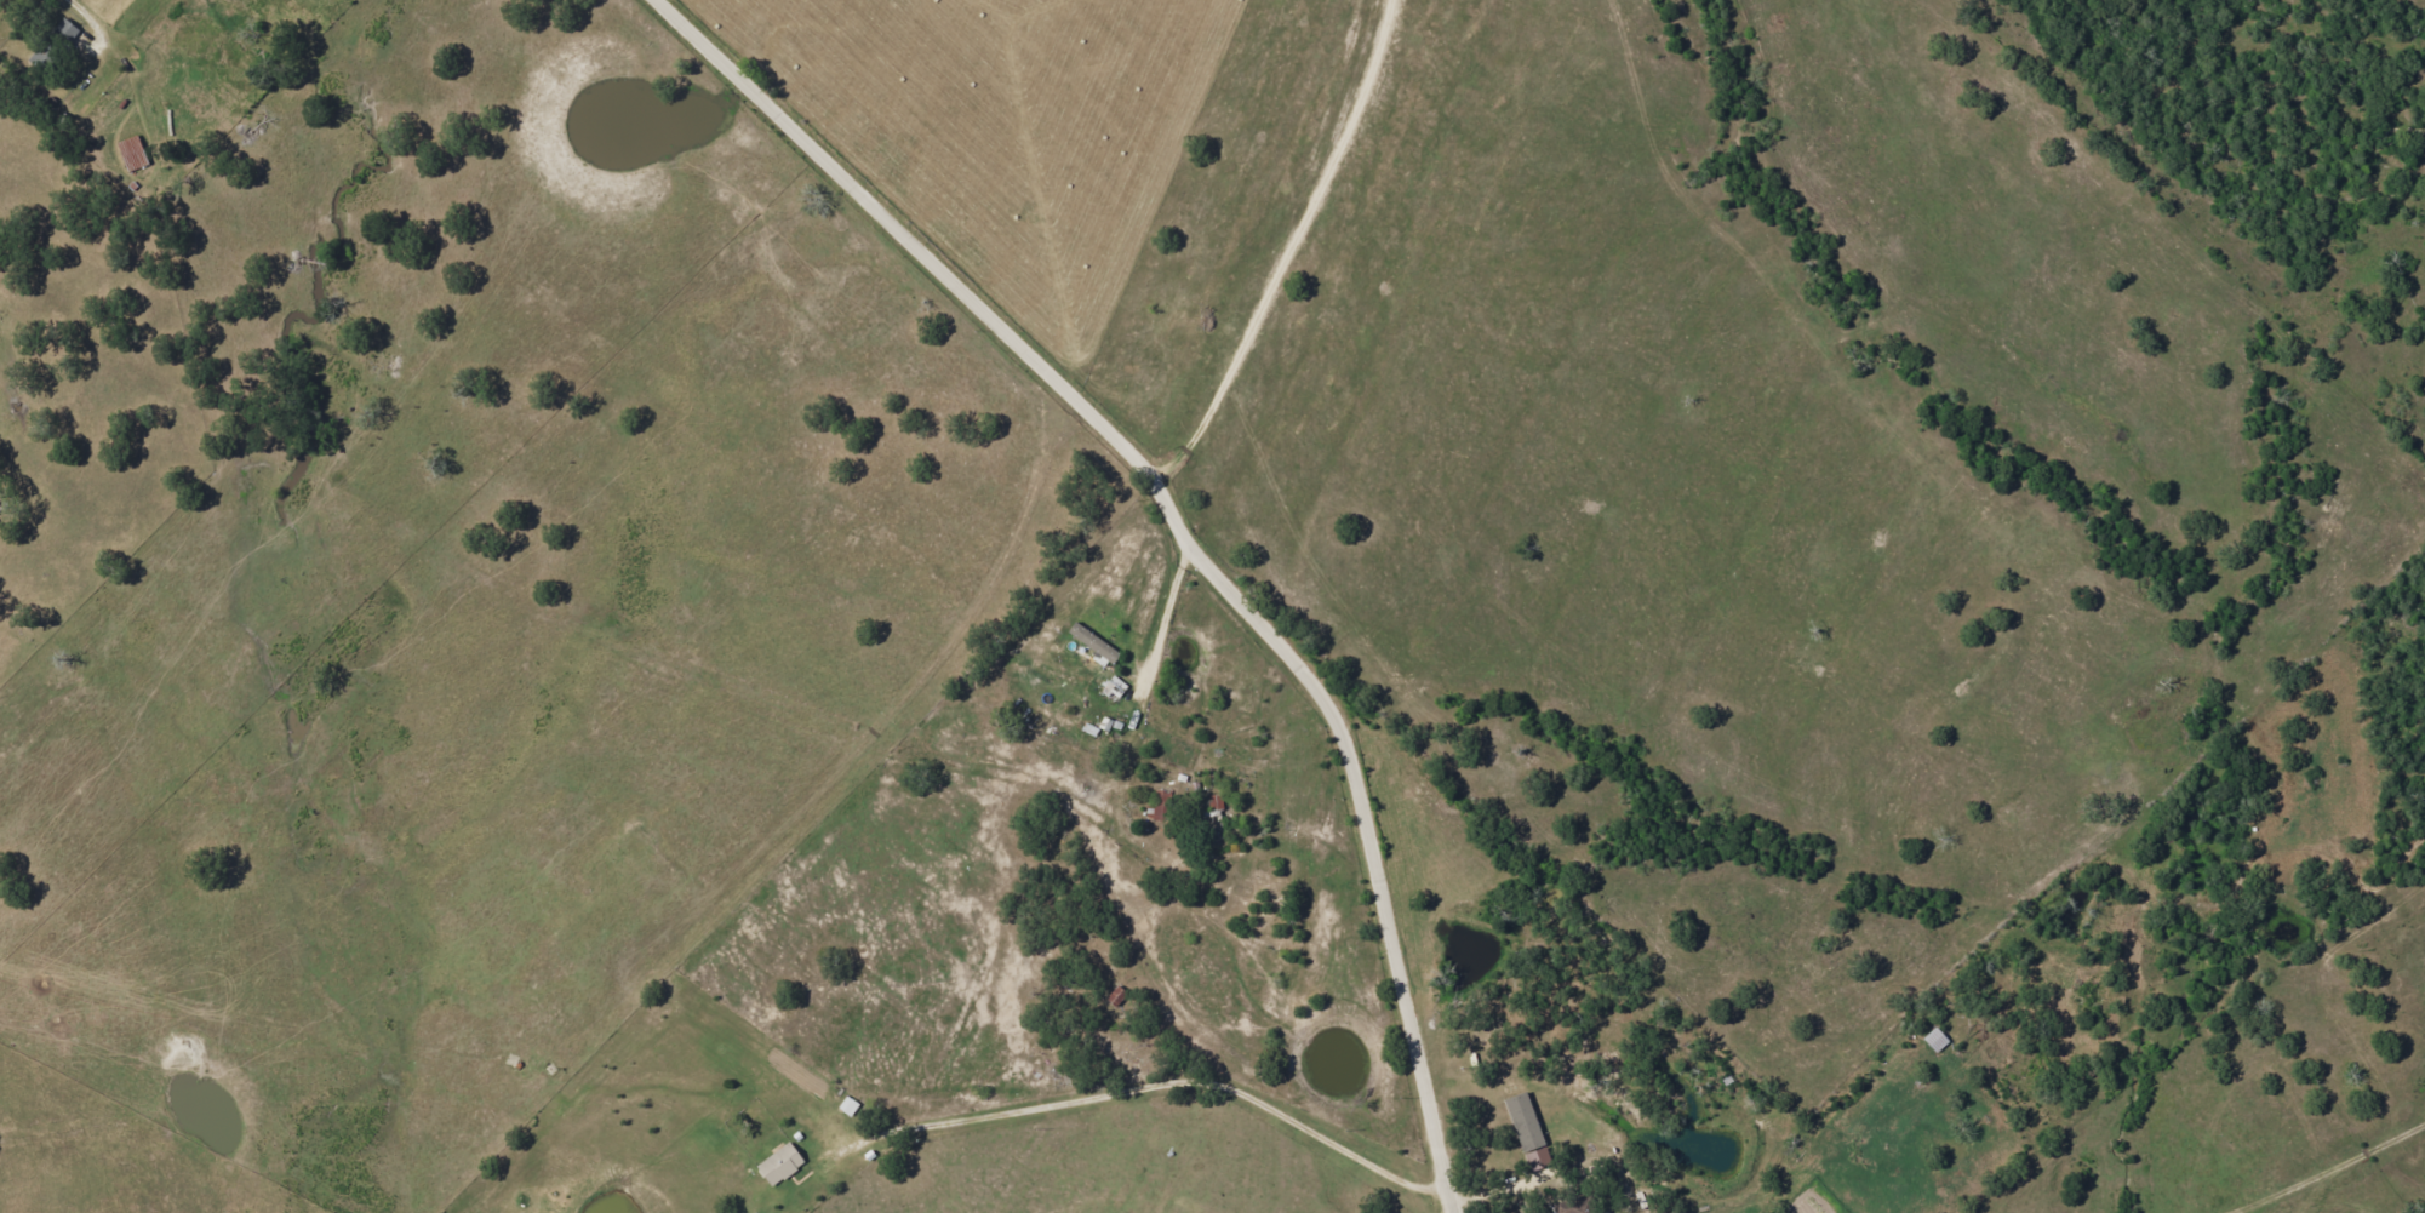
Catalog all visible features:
road: (1176, 534)
building: (1093, 642)
building: (1525, 1122)
building: (780, 1165)

